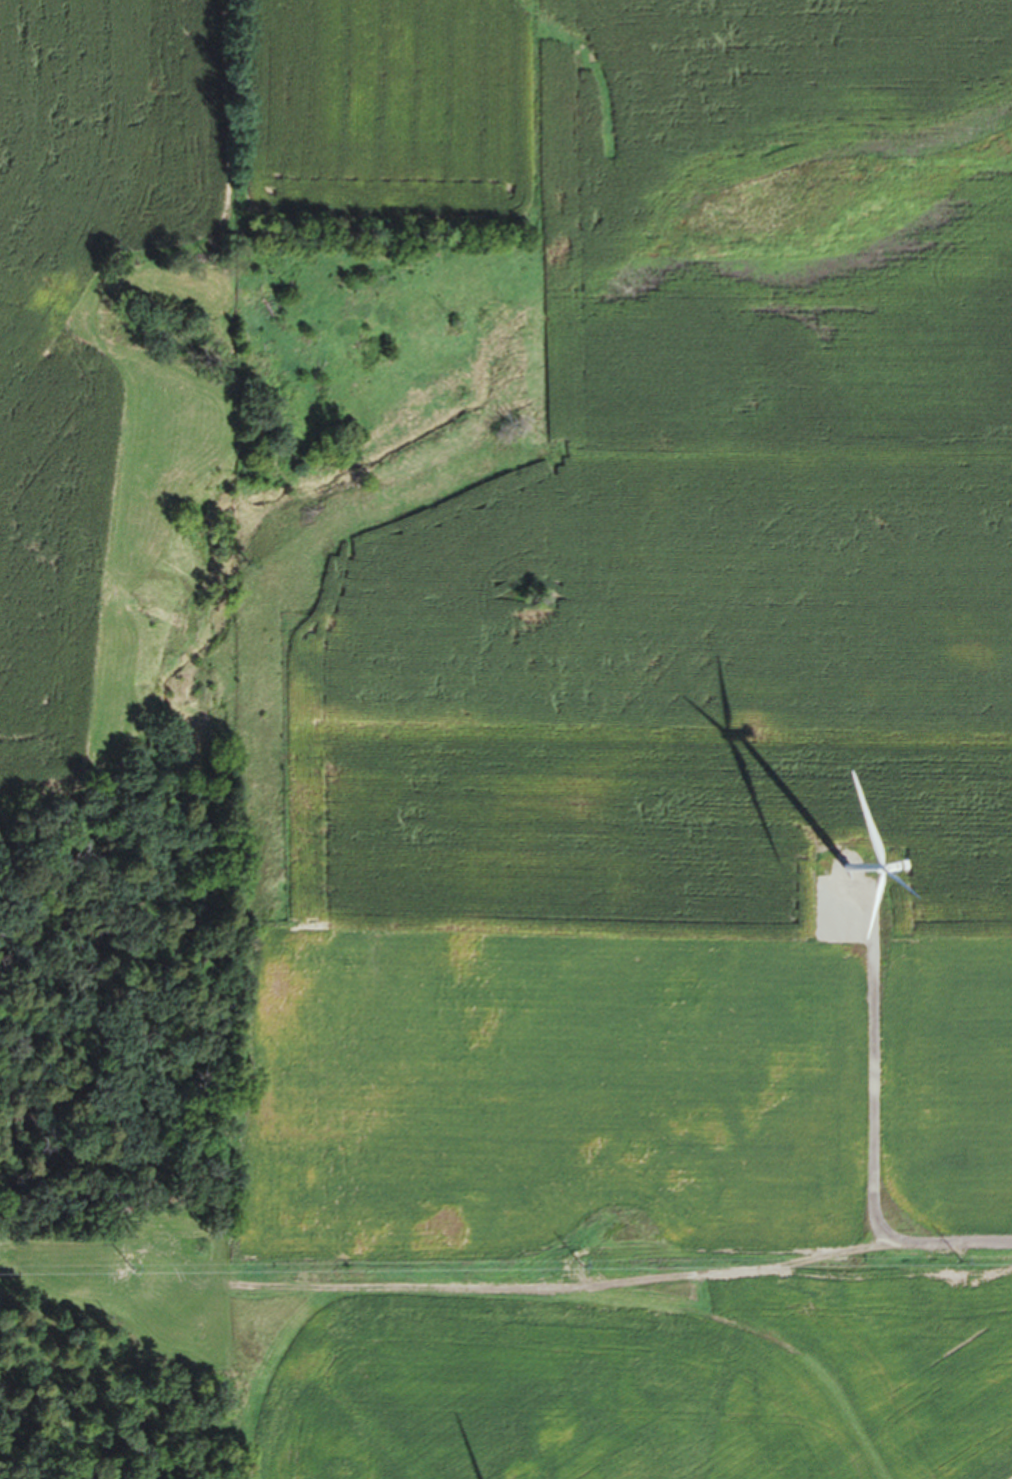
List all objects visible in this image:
wind turbine: (845, 871)
building: (798, 919)
road: (870, 1090)

